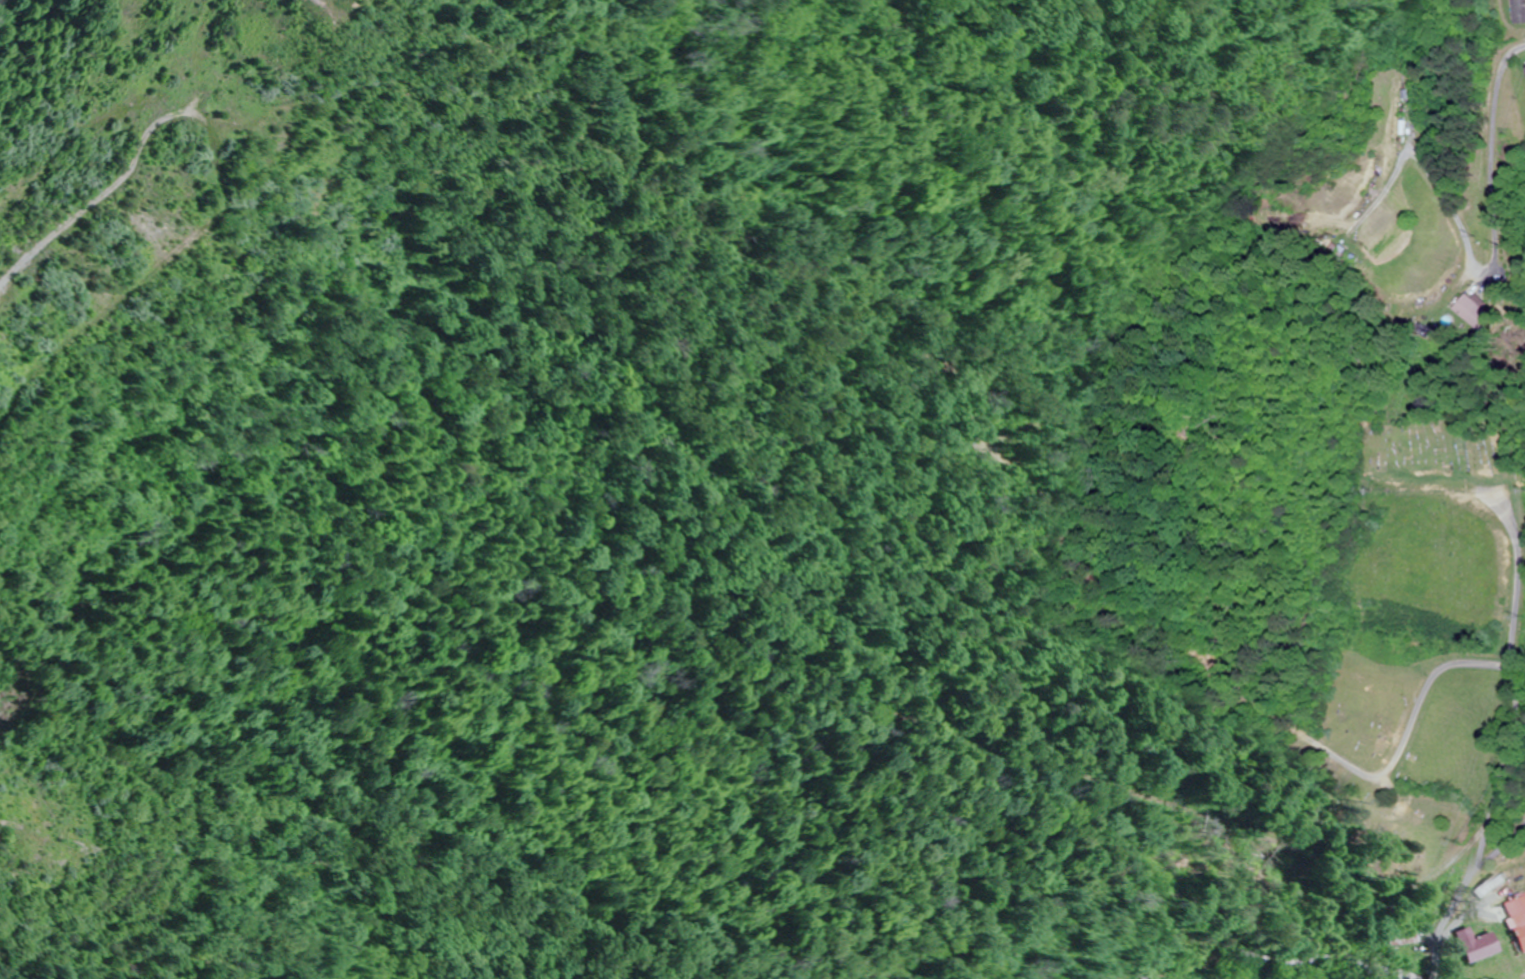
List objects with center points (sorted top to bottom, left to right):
building: (1521, 74)
road: (1496, 163)
road: (1406, 287)
road: (1435, 302)
building: (1472, 313)
road: (1515, 742)
building: (1487, 885)
building: (1520, 930)
building: (1476, 945)

